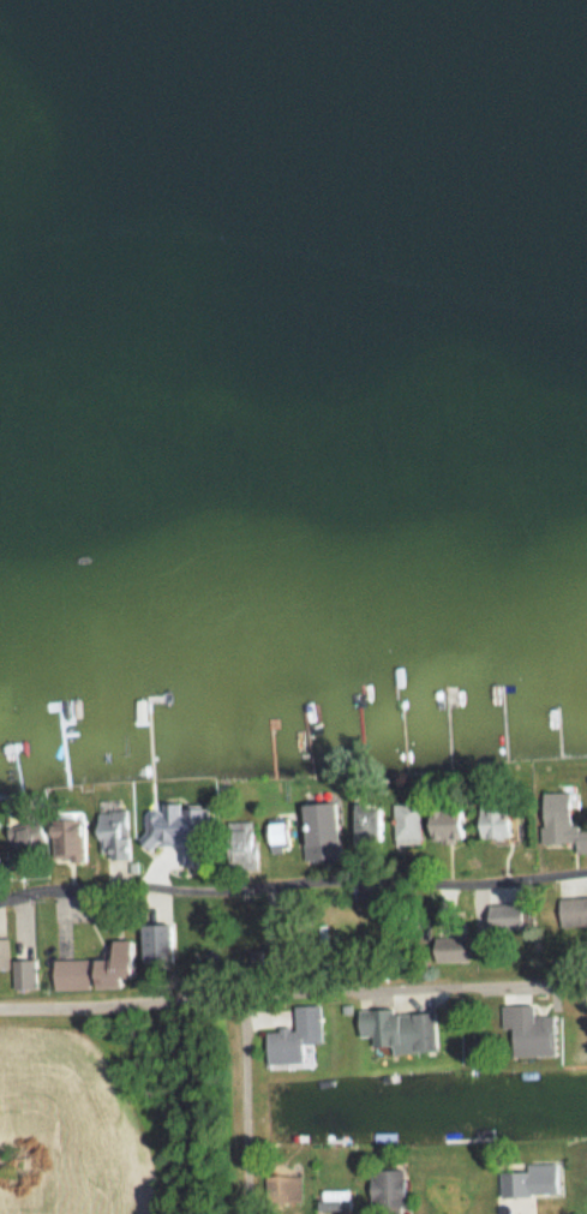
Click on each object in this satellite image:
building: (367, 821)
building: (491, 821)
building: (561, 823)
building: (406, 824)
building: (441, 824)
building: (318, 830)
building: (107, 833)
building: (282, 835)
building: (67, 839)
building: (169, 842)
building: (29, 845)
building: (241, 845)
road: (293, 889)
building: (573, 911)
building: (502, 919)
building: (154, 943)
building: (4, 953)
building: (94, 970)
building: (23, 973)
road: (553, 985)
road: (260, 995)
building: (397, 1029)
building: (527, 1031)
building: (293, 1036)
road: (241, 1105)
building: (523, 1183)
building: (282, 1189)
building: (385, 1191)

